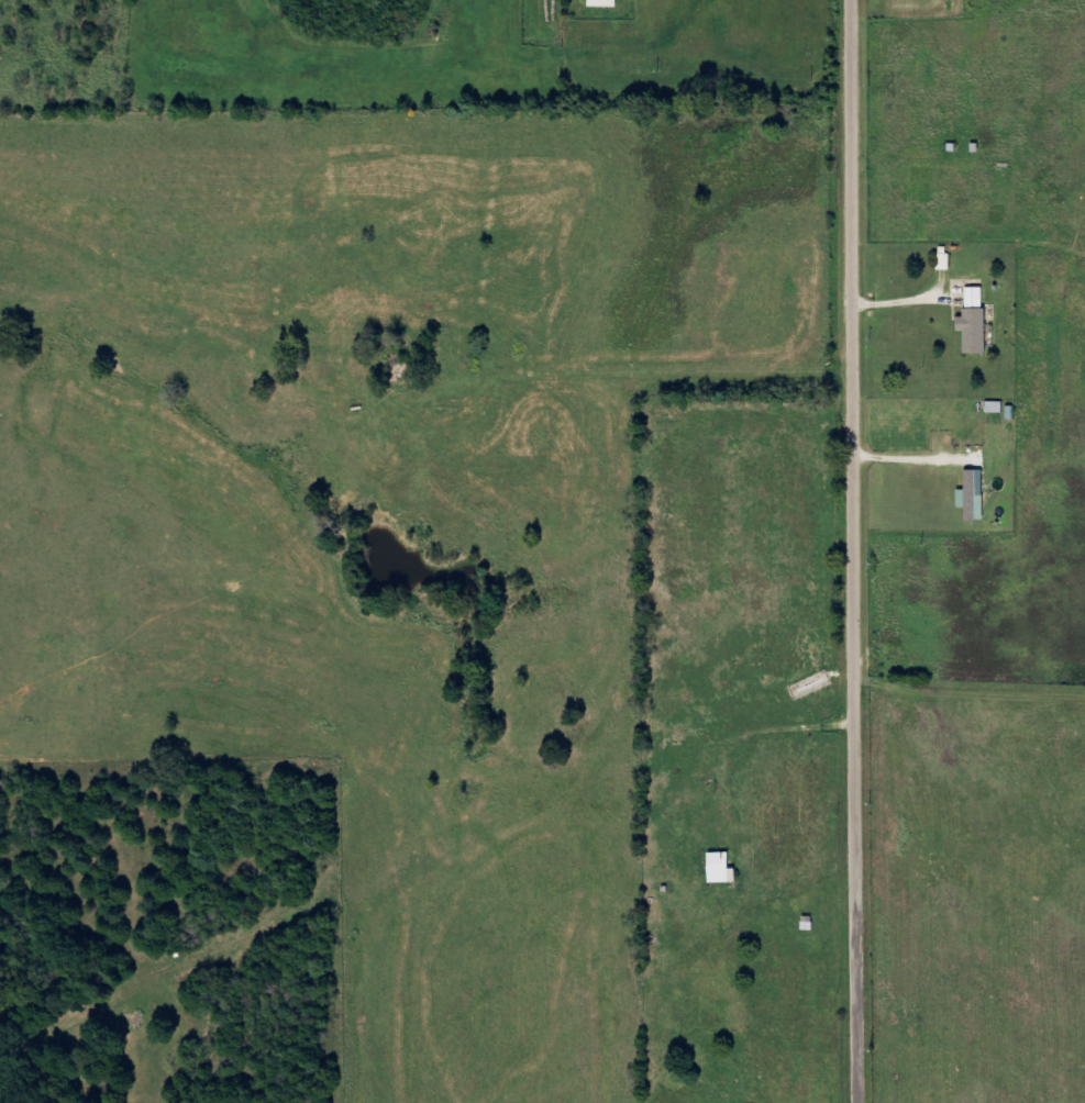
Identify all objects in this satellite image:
building: (604, 3)
building: (975, 293)
building: (974, 330)
building: (995, 406)
building: (973, 495)
road: (863, 551)
building: (721, 868)

